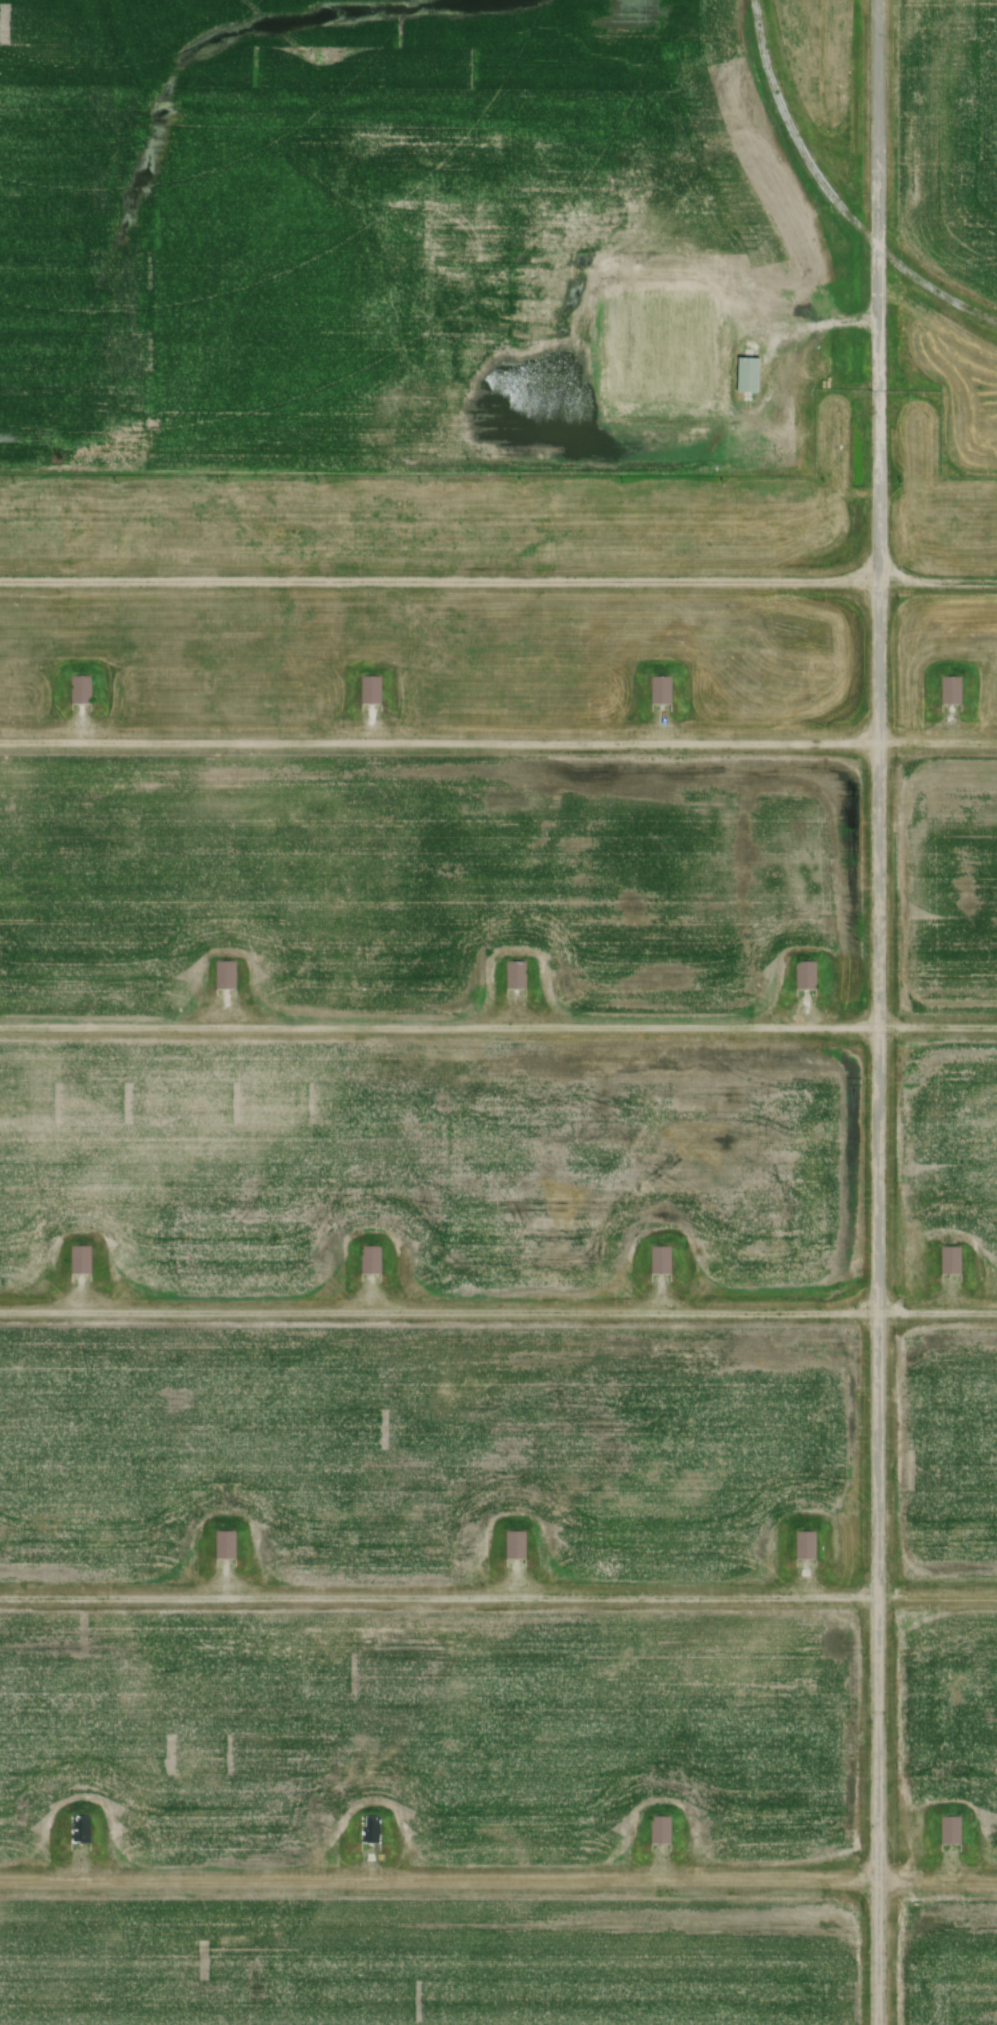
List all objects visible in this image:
railway: (831, 194)
building: (746, 376)
road: (498, 578)
building: (79, 689)
building: (370, 689)
building: (659, 690)
building: (949, 690)
road: (498, 740)
building: (514, 974)
building: (225, 975)
building: (803, 975)
road: (875, 1012)
road: (498, 1023)
building: (369, 1259)
building: (80, 1260)
building: (949, 1260)
building: (659, 1261)
road: (498, 1309)
building: (514, 1544)
building: (224, 1545)
road: (498, 1595)
building: (78, 1830)
building: (369, 1830)
building: (658, 1830)
building: (948, 1830)
road: (498, 1879)

